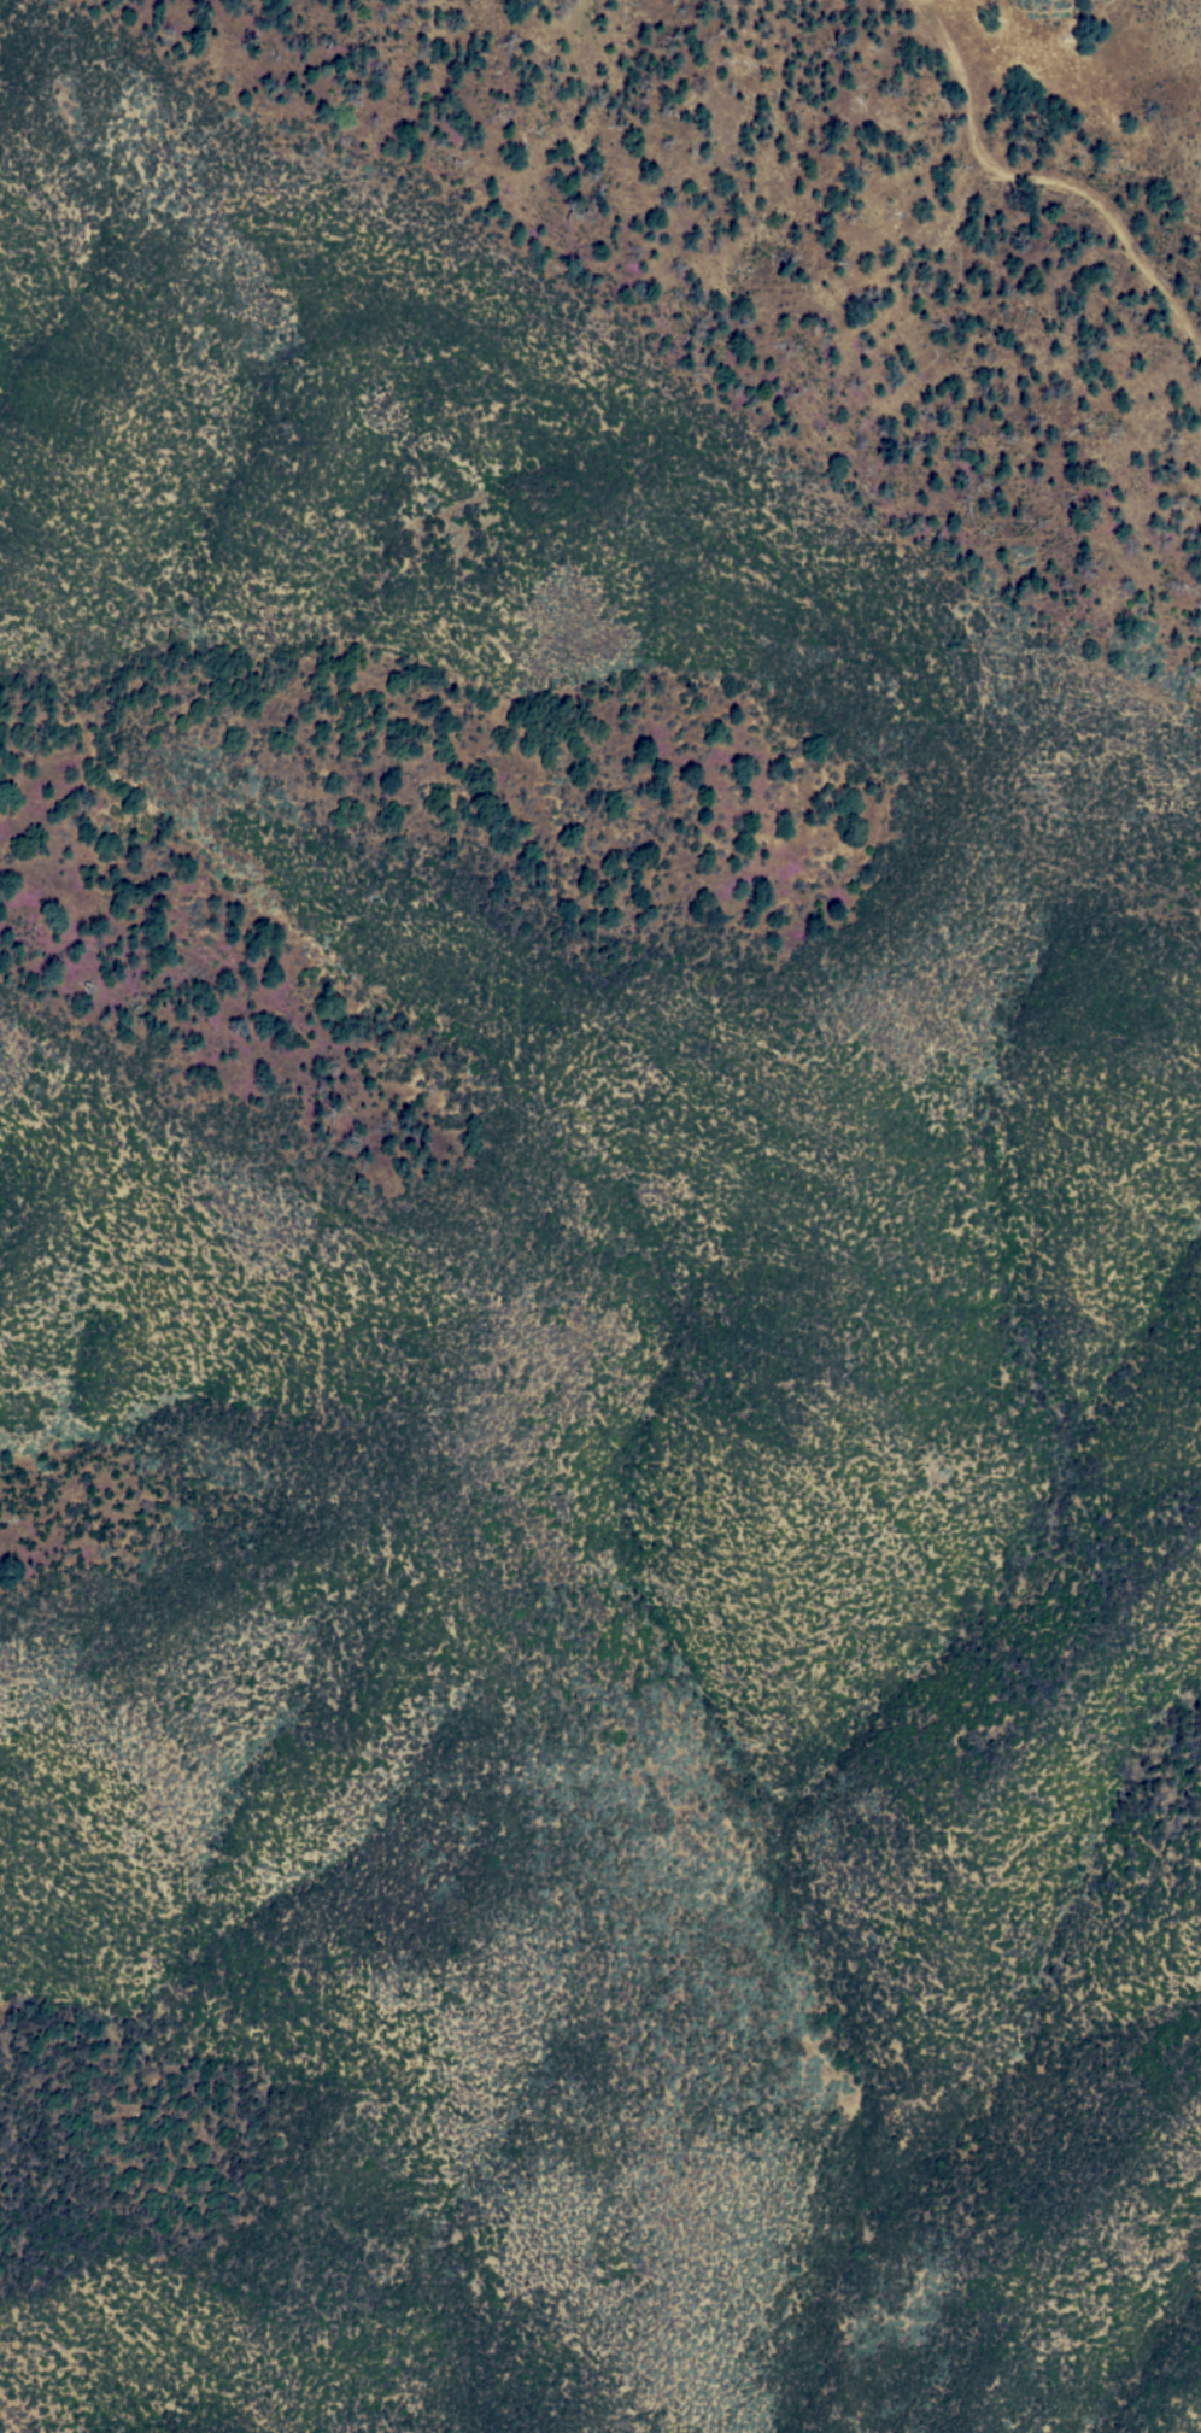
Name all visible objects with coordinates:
road: (1032, 186)

